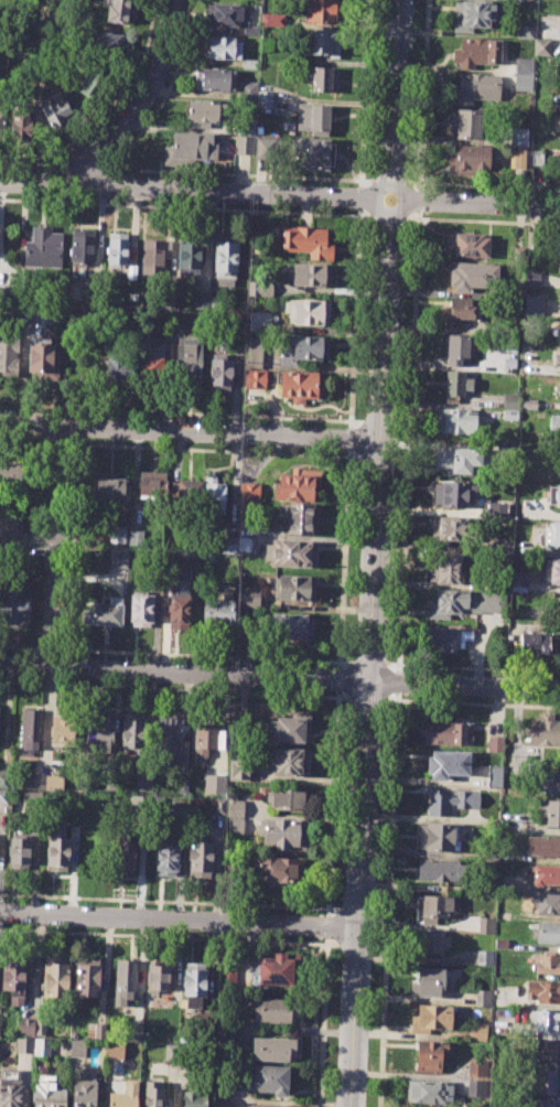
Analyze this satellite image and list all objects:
building: (120, 11)
building: (321, 11)
building: (226, 14)
building: (472, 14)
building: (273, 18)
building: (524, 32)
building: (320, 41)
building: (108, 42)
building: (267, 44)
building: (222, 47)
building: (541, 47)
building: (477, 52)
building: (248, 65)
building: (523, 73)
building: (216, 79)
building: (324, 79)
building: (89, 80)
building: (475, 86)
building: (247, 92)
road: (364, 94)
road: (423, 95)
building: (265, 99)
road: (141, 103)
building: (57, 112)
building: (204, 112)
building: (313, 119)
building: (470, 122)
building: (21, 125)
building: (2, 127)
building: (518, 137)
building: (244, 144)
building: (190, 148)
building: (266, 148)
building: (311, 153)
building: (536, 157)
building: (519, 159)
building: (467, 161)
road: (155, 170)
road: (389, 180)
road: (483, 184)
road: (279, 194)
road: (359, 196)
road: (419, 200)
road: (185, 207)
road: (387, 216)
road: (482, 221)
street lamp: (405, 223)
building: (308, 243)
building: (83, 245)
building: (467, 245)
building: (42, 247)
building: (116, 248)
building: (518, 252)
building: (154, 255)
building: (187, 258)
building: (225, 260)
building: (131, 273)
building: (310, 275)
building: (472, 275)
building: (531, 279)
building: (261, 288)
building: (516, 292)
building: (201, 300)
building: (531, 304)
building: (306, 311)
building: (460, 311)
building: (42, 313)
road: (354, 318)
building: (258, 321)
street lamp: (399, 321)
building: (304, 348)
building: (456, 350)
building: (254, 353)
building: (8, 355)
building: (556, 356)
building: (43, 361)
building: (187, 361)
building: (157, 363)
building: (508, 367)
building: (119, 368)
building: (219, 373)
building: (255, 378)
building: (455, 384)
building: (302, 385)
building: (559, 388)
building: (509, 400)
building: (527, 405)
road: (174, 412)
building: (509, 417)
building: (455, 420)
building: (554, 420)
street lamp: (396, 428)
road: (190, 430)
road: (348, 438)
road: (408, 440)
building: (506, 452)
building: (457, 459)
building: (13, 473)
road: (233, 482)
building: (298, 483)
building: (148, 484)
building: (109, 488)
building: (180, 488)
building: (248, 491)
building: (453, 493)
building: (213, 495)
building: (557, 495)
building: (191, 496)
building: (503, 510)
street lamp: (390, 517)
building: (299, 518)
building: (449, 529)
building: (10, 531)
building: (117, 535)
building: (551, 535)
building: (137, 537)
building: (245, 542)
building: (227, 545)
road: (57, 547)
building: (502, 547)
road: (72, 552)
building: (290, 553)
road: (375, 553)
building: (118, 559)
road: (343, 559)
building: (445, 569)
building: (552, 571)
road: (89, 577)
building: (518, 581)
building: (295, 588)
building: (248, 597)
building: (463, 602)
building: (142, 609)
building: (219, 609)
building: (13, 611)
building: (104, 612)
building: (179, 612)
building: (538, 613)
building: (291, 625)
building: (450, 638)
building: (534, 643)
road: (367, 662)
road: (472, 667)
street lamp: (500, 675)
road: (279, 679)
road: (338, 679)
road: (398, 681)
road: (169, 689)
road: (338, 692)
road: (366, 696)
road: (397, 696)
road: (391, 699)
road: (45, 723)
building: (289, 729)
building: (545, 730)
building: (31, 731)
building: (62, 731)
building: (132, 731)
building: (98, 732)
building: (445, 733)
building: (206, 738)
street lamp: (380, 739)
building: (168, 740)
building: (494, 743)
building: (290, 762)
building: (445, 764)
building: (238, 770)
building: (494, 776)
building: (218, 777)
building: (140, 782)
building: (53, 783)
building: (550, 783)
building: (182, 785)
building: (2, 796)
building: (288, 799)
building: (451, 799)
road: (333, 802)
building: (218, 806)
building: (234, 807)
building: (550, 812)
road: (390, 823)
building: (234, 826)
street lamp: (377, 829)
building: (282, 834)
building: (441, 837)
building: (542, 846)
building: (56, 848)
building: (18, 851)
building: (165, 855)
building: (123, 857)
building: (200, 860)
building: (277, 869)
building: (438, 870)
building: (545, 874)
road: (164, 900)
building: (546, 902)
building: (433, 907)
road: (179, 921)
building: (485, 924)
road: (327, 926)
road: (412, 926)
building: (546, 933)
road: (166, 935)
building: (432, 944)
building: (500, 944)
street lamp: (371, 945)
building: (484, 957)
building: (547, 963)
building: (272, 970)
building: (17, 977)
building: (86, 977)
building: (226, 977)
building: (54, 978)
building: (158, 979)
building: (123, 982)
building: (193, 982)
building: (429, 982)
building: (542, 991)
building: (482, 997)
building: (272, 1009)
building: (430, 1018)
building: (545, 1020)
road: (321, 1024)
building: (26, 1025)
building: (40, 1027)
building: (224, 1029)
building: (95, 1031)
building: (480, 1031)
building: (134, 1032)
building: (23, 1044)
building: (40, 1045)
building: (76, 1049)
building: (271, 1049)
building: (545, 1050)
building: (114, 1051)
building: (171, 1052)
street lamp: (367, 1054)
building: (429, 1054)
building: (476, 1068)
building: (266, 1079)
building: (546, 1081)
road: (25, 1083)
road: (177, 1087)
building: (219, 1087)
building: (477, 1088)
building: (84, 1089)
building: (429, 1092)
building: (10, 1093)
building: (47, 1094)
building: (153, 1095)
building: (123, 1096)
building: (193, 1098)
road: (283, 1101)
building: (220, 1103)
building: (542, 1103)
building: (266, 1105)

